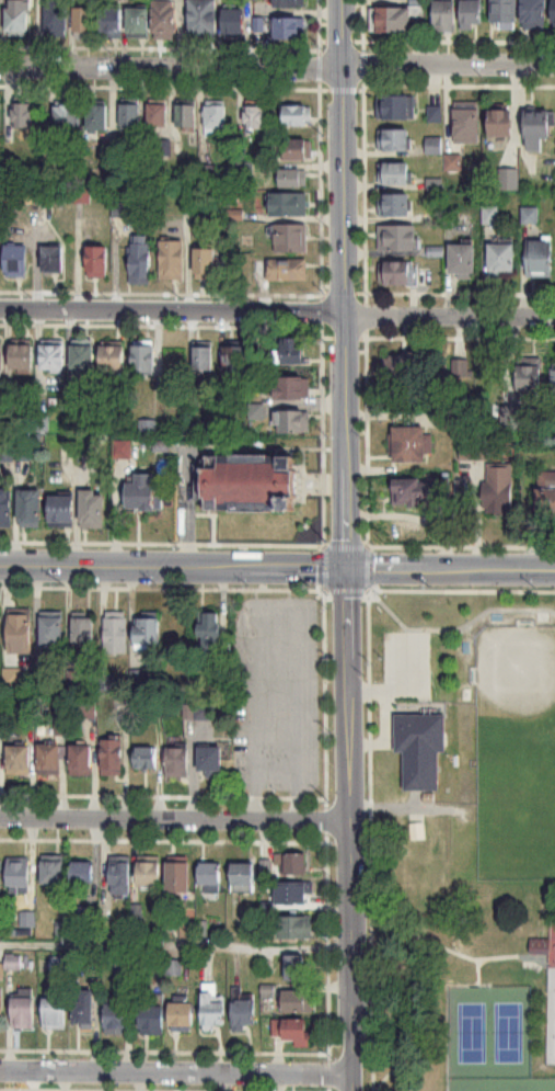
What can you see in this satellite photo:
building: (289, 3)
building: (505, 11)
building: (472, 14)
building: (535, 14)
building: (554, 14)
building: (20, 16)
building: (446, 16)
building: (57, 18)
building: (204, 18)
building: (397, 18)
road: (316, 19)
road: (360, 19)
building: (165, 20)
building: (84, 21)
building: (139, 21)
building: (234, 22)
building: (112, 23)
building: (289, 29)
road: (339, 38)
road: (317, 62)
road: (361, 62)
road: (277, 68)
road: (339, 88)
building: (394, 107)
building: (25, 116)
building: (130, 116)
building: (159, 116)
building: (186, 116)
building: (298, 116)
building: (68, 117)
building: (99, 117)
building: (216, 117)
building: (255, 117)
building: (1, 118)
building: (500, 124)
building: (466, 126)
building: (537, 130)
building: (394, 140)
building: (433, 146)
building: (298, 149)
building: (452, 162)
building: (394, 174)
building: (293, 179)
building: (47, 195)
building: (83, 196)
building: (289, 205)
building: (394, 205)
building: (126, 211)
building: (290, 238)
building: (397, 238)
building: (541, 259)
building: (141, 260)
building: (502, 260)
building: (54, 261)
building: (173, 261)
building: (463, 261)
building: (16, 262)
building: (99, 262)
building: (206, 264)
building: (281, 271)
building: (396, 273)
road: (345, 282)
road: (277, 314)
building: (293, 352)
building: (22, 356)
building: (53, 356)
building: (143, 356)
building: (83, 357)
building: (113, 357)
building: (1, 359)
building: (203, 359)
building: (235, 360)
building: (405, 365)
building: (460, 368)
building: (530, 382)
building: (553, 388)
building: (293, 389)
building: (257, 412)
building: (292, 422)
building: (409, 442)
building: (123, 450)
building: (251, 485)
building: (498, 487)
building: (419, 491)
building: (142, 493)
building: (546, 493)
building: (30, 507)
building: (5, 508)
building: (92, 509)
building: (62, 510)
road: (161, 542)
road: (438, 544)
road: (172, 565)
traffic signals: (345, 566)
road: (449, 567)
road: (161, 587)
road: (438, 589)
road: (455, 626)
building: (0, 628)
building: (18, 628)
road: (405, 628)
building: (51, 630)
building: (84, 632)
building: (116, 634)
building: (148, 634)
building: (209, 634)
parking lot: (407, 657)
park: (516, 669)
road: (405, 689)
building: (206, 713)
road: (385, 735)
building: (419, 747)
building: (144, 754)
building: (111, 755)
building: (16, 758)
building: (47, 758)
building: (79, 758)
building: (209, 759)
building: (175, 760)
road: (162, 794)
park: (514, 794)
road: (173, 817)
road: (324, 817)
road: (368, 817)
road: (348, 828)
park: (459, 836)
road: (162, 839)
building: (294, 865)
building: (53, 871)
building: (150, 872)
building: (16, 873)
building: (82, 873)
building: (176, 875)
building: (120, 876)
building: (1, 877)
building: (210, 878)
building: (244, 878)
building: (292, 894)
building: (294, 929)
building: (537, 943)
road: (175, 944)
road: (439, 944)
road: (534, 956)
building: (59, 966)
building: (294, 968)
road: (476, 970)
road: (550, 991)
park: (551, 995)
building: (296, 1000)
building: (212, 1008)
building: (1, 1010)
building: (85, 1010)
building: (22, 1011)
building: (54, 1011)
building: (243, 1014)
road: (444, 1014)
building: (182, 1015)
building: (116, 1018)
building: (152, 1020)
building: (288, 1030)
park: (490, 1039)
road: (163, 1049)
road: (174, 1070)
road: (130, 1089)

